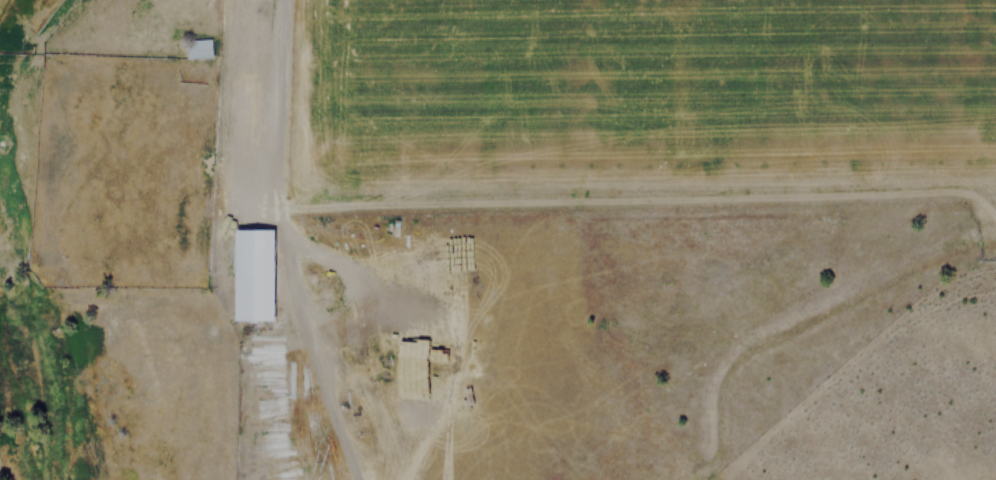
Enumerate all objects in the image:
building: (198, 48)
crop: (629, 96)
road: (274, 101)
building: (253, 274)

